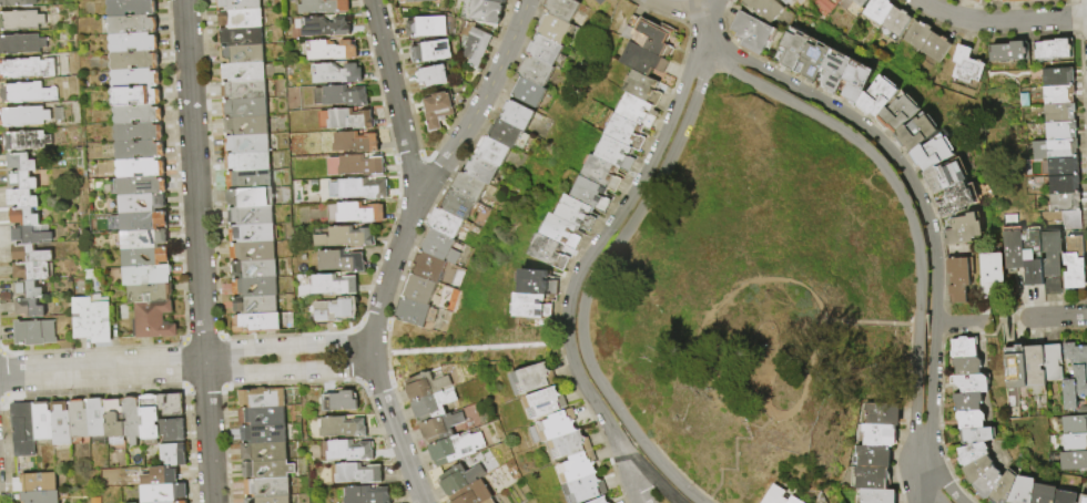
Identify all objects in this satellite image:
building: (974, 0)
building: (978, 0)
building: (1017, 0)
building: (416, 1)
building: (498, 1)
building: (599, 1)
road: (680, 2)
building: (789, 2)
building: (859, 2)
building: (19, 3)
building: (240, 4)
building: (318, 7)
building: (132, 8)
building: (763, 8)
building: (877, 9)
building: (481, 10)
building: (555, 10)
building: (242, 19)
building: (895, 20)
building: (21, 21)
road: (1000, 21)
road: (705, 23)
building: (134, 25)
building: (321, 28)
building: (424, 28)
building: (547, 30)
building: (752, 31)
building: (649, 33)
building: (916, 35)
building: (241, 37)
building: (134, 43)
building: (22, 44)
building: (476, 45)
building: (934, 47)
building: (791, 48)
building: (1053, 49)
building: (326, 51)
building: (1009, 51)
building: (428, 52)
building: (538, 52)
building: (242, 54)
building: (644, 58)
building: (811, 59)
building: (134, 61)
building: (965, 64)
building: (29, 68)
building: (833, 69)
building: (244, 72)
building: (529, 73)
building: (332, 74)
building: (433, 75)
building: (1055, 78)
building: (136, 79)
building: (853, 80)
building: (650, 86)
building: (245, 90)
building: (28, 93)
building: (522, 94)
building: (1056, 95)
building: (138, 96)
building: (336, 97)
road: (482, 99)
building: (874, 99)
building: (246, 109)
building: (641, 109)
building: (435, 112)
building: (896, 113)
building: (1056, 113)
building: (139, 115)
building: (26, 116)
building: (510, 117)
building: (341, 121)
building: (246, 126)
building: (628, 130)
building: (916, 132)
building: (1057, 132)
building: (140, 133)
building: (500, 135)
building: (28, 141)
building: (247, 144)
building: (351, 144)
road: (866, 150)
building: (1052, 150)
building: (141, 151)
building: (618, 151)
building: (486, 152)
building: (932, 152)
building: (22, 162)
building: (248, 162)
building: (351, 167)
building: (1060, 167)
building: (142, 168)
road: (414, 172)
building: (475, 172)
building: (603, 172)
building: (943, 174)
building: (250, 179)
building: (23, 181)
building: (1060, 185)
building: (143, 186)
building: (464, 188)
building: (329, 191)
building: (358, 191)
building: (589, 192)
building: (252, 198)
road: (920, 198)
building: (24, 199)
building: (955, 199)
building: (1063, 203)
building: (143, 204)
building: (458, 209)
building: (575, 213)
building: (352, 215)
building: (252, 216)
building: (26, 217)
building: (1069, 220)
building: (144, 222)
building: (438, 225)
building: (963, 228)
building: (559, 232)
building: (253, 233)
building: (33, 234)
building: (144, 239)
building: (341, 240)
building: (1013, 243)
road: (614, 245)
building: (433, 248)
road: (197, 251)
building: (253, 251)
road: (591, 251)
building: (548, 253)
building: (32, 254)
building: (1052, 254)
building: (1033, 256)
building: (146, 258)
building: (337, 263)
building: (1074, 263)
building: (421, 268)
building: (255, 269)
building: (35, 270)
building: (991, 270)
building: (957, 271)
building: (148, 275)
road: (786, 279)
building: (538, 281)
building: (256, 287)
building: (328, 287)
building: (30, 290)
building: (413, 290)
park: (754, 292)
building: (152, 294)
building: (256, 306)
building: (532, 306)
building: (31, 308)
building: (329, 312)
building: (408, 314)
road: (1053, 316)
building: (83, 318)
building: (102, 320)
building: (155, 320)
road: (961, 321)
building: (257, 324)
building: (37, 332)
road: (562, 343)
road: (286, 345)
building: (965, 348)
road: (373, 353)
road: (379, 353)
road: (285, 359)
road: (692, 360)
building: (1050, 361)
building: (966, 365)
building: (1033, 367)
building: (1014, 368)
road: (102, 369)
road: (288, 371)
road: (748, 371)
building: (1074, 374)
road: (809, 376)
building: (532, 378)
building: (969, 382)
building: (421, 386)
road: (915, 393)
building: (263, 398)
building: (972, 399)
building: (339, 400)
building: (542, 403)
building: (173, 404)
building: (428, 407)
building: (878, 412)
building: (968, 417)
building: (275, 418)
building: (153, 419)
building: (134, 420)
building: (99, 421)
building: (44, 422)
building: (80, 422)
building: (116, 422)
building: (62, 424)
building: (557, 425)
building: (1073, 425)
building: (343, 427)
road: (613, 427)
building: (437, 428)
building: (23, 430)
building: (174, 430)
building: (977, 433)
road: (397, 434)
building: (877, 434)
building: (276, 435)
building: (567, 443)
road: (637, 443)
building: (1074, 443)
building: (345, 449)
building: (451, 449)
building: (253, 452)
building: (971, 452)
building: (175, 455)
building: (872, 456)
building: (1071, 461)
building: (578, 465)
building: (975, 469)
building: (283, 472)
building: (356, 473)
road: (670, 473)
building: (164, 476)
building: (456, 479)
building: (870, 479)
road: (941, 481)
building: (39, 482)
road: (656, 482)
road: (914, 482)
building: (987, 482)
road: (926, 483)
road: (636, 485)
building: (1004, 487)
building: (583, 489)
building: (280, 490)
building: (1020, 490)
building: (1043, 493)
building: (179, 494)
building: (368, 494)
building: (468, 494)
building: (771, 495)
building: (876, 496)
building: (1065, 496)
building: (41, 497)
building: (1083, 499)
building: (270, 500)
building: (600, 500)
building: (791, 500)
building: (485, 501)
building: (174, 502)
building: (184, 502)

